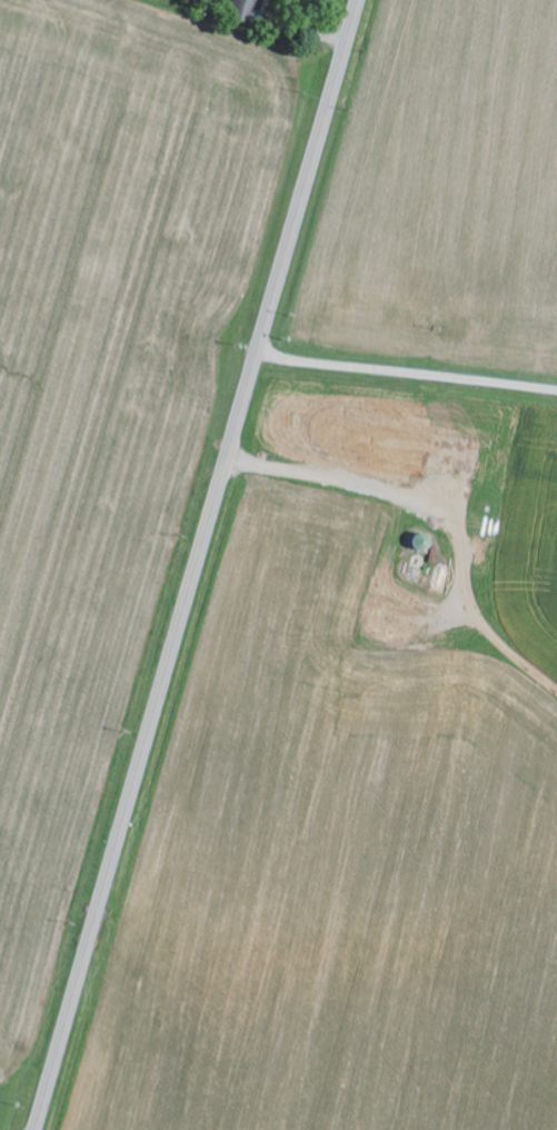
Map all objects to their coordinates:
building: (268, 0)
building: (247, 7)
road: (406, 375)
building: (344, 434)
building: (457, 454)
road: (459, 508)
road: (195, 564)
road: (19, 1110)

